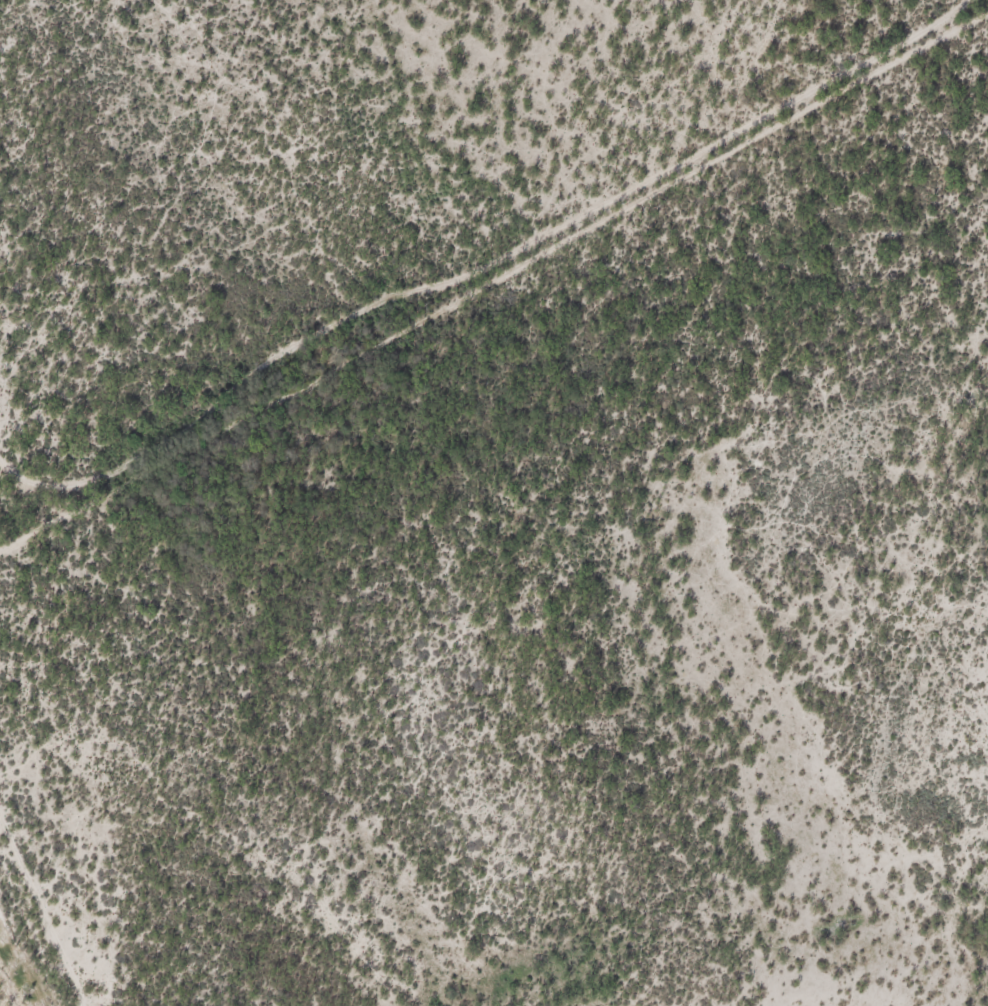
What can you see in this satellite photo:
road: (493, 272)

